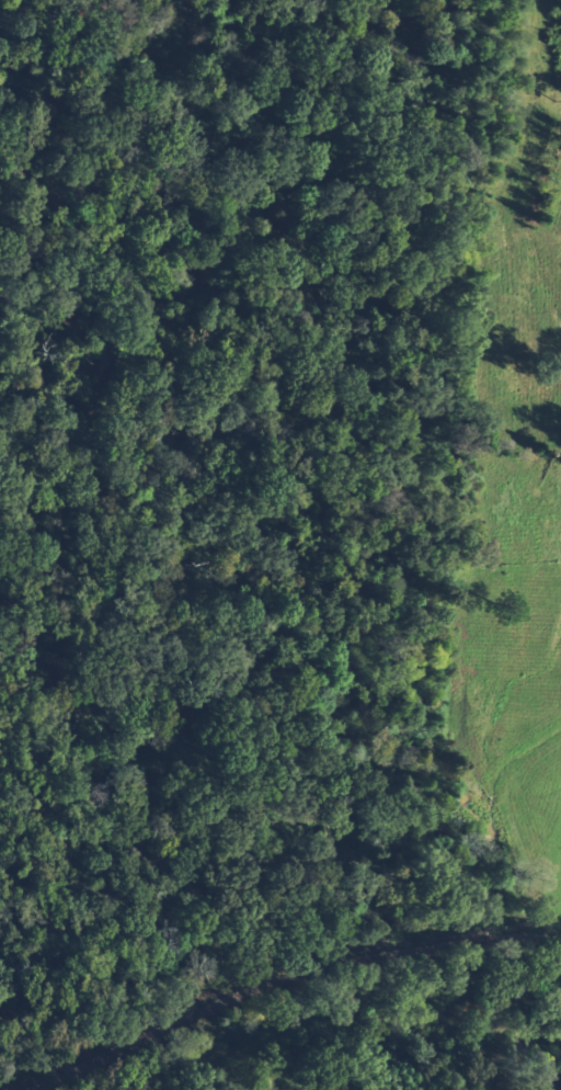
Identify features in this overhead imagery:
road: (298, 990)

